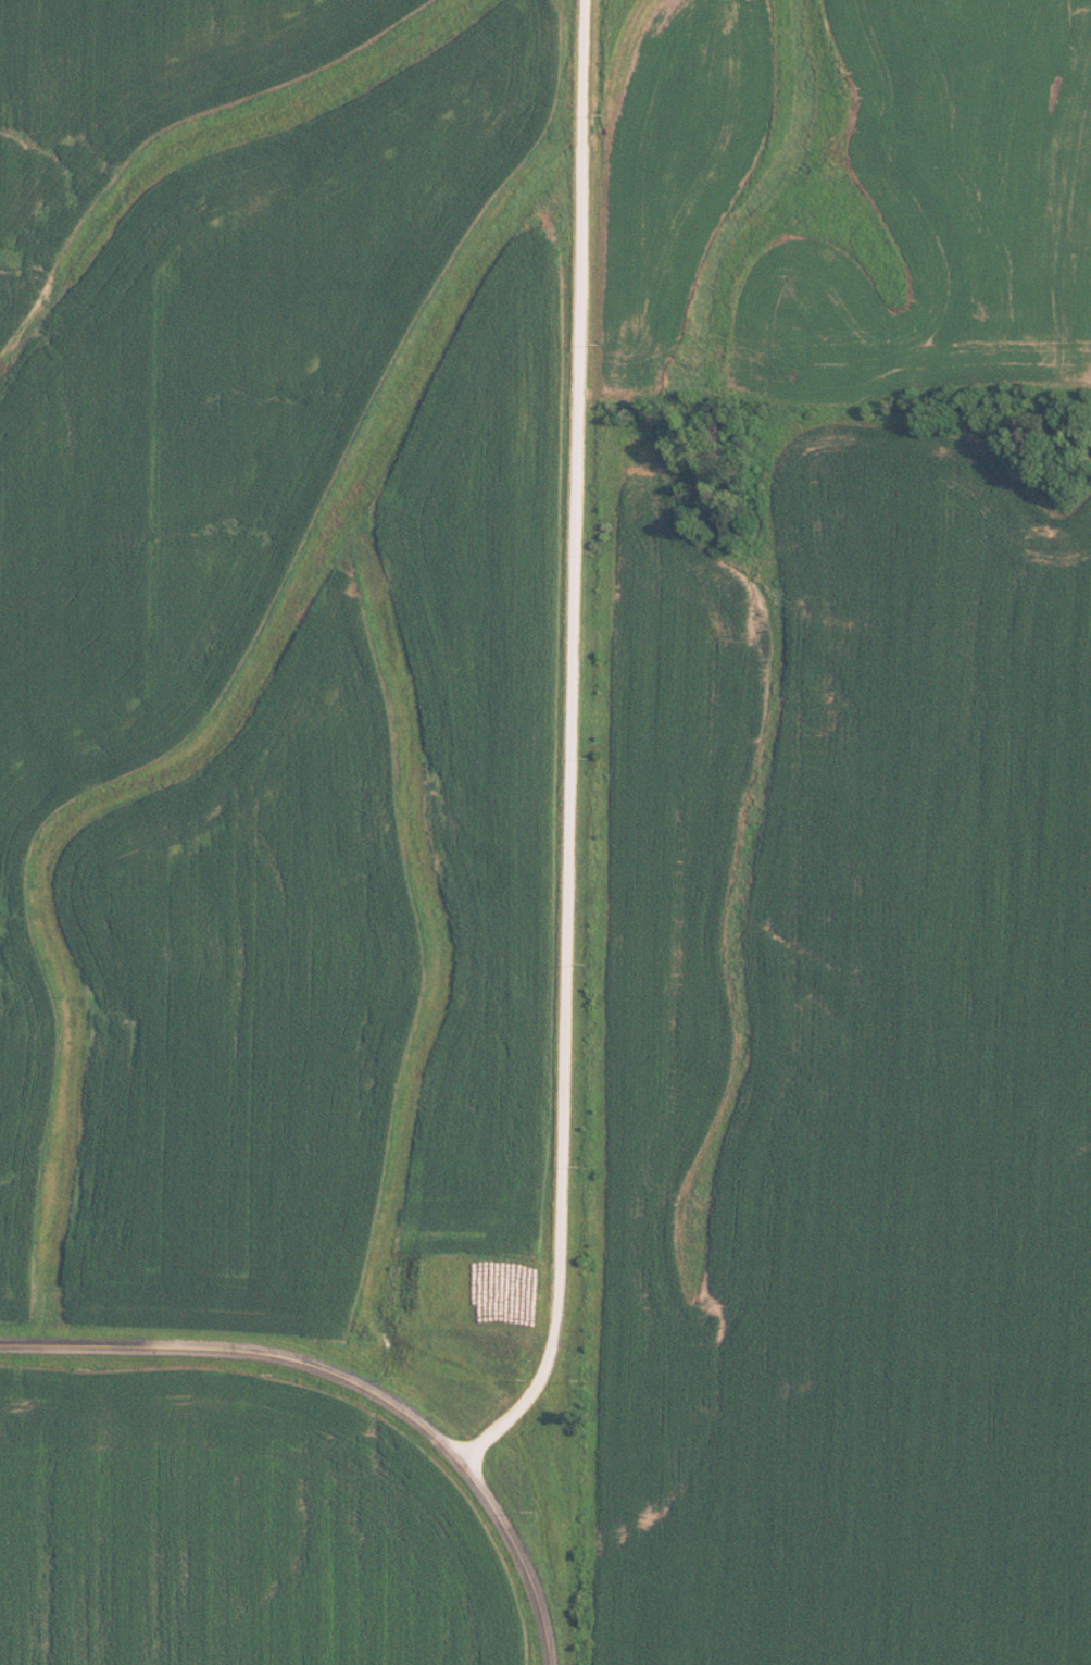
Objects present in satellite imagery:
road: (569, 749)
road: (351, 1383)

